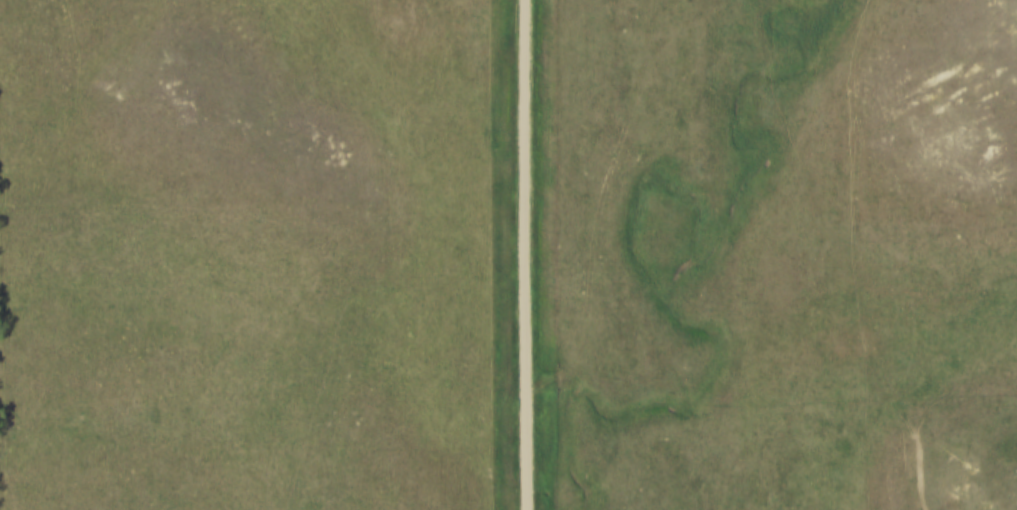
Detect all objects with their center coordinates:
road: (526, 255)

